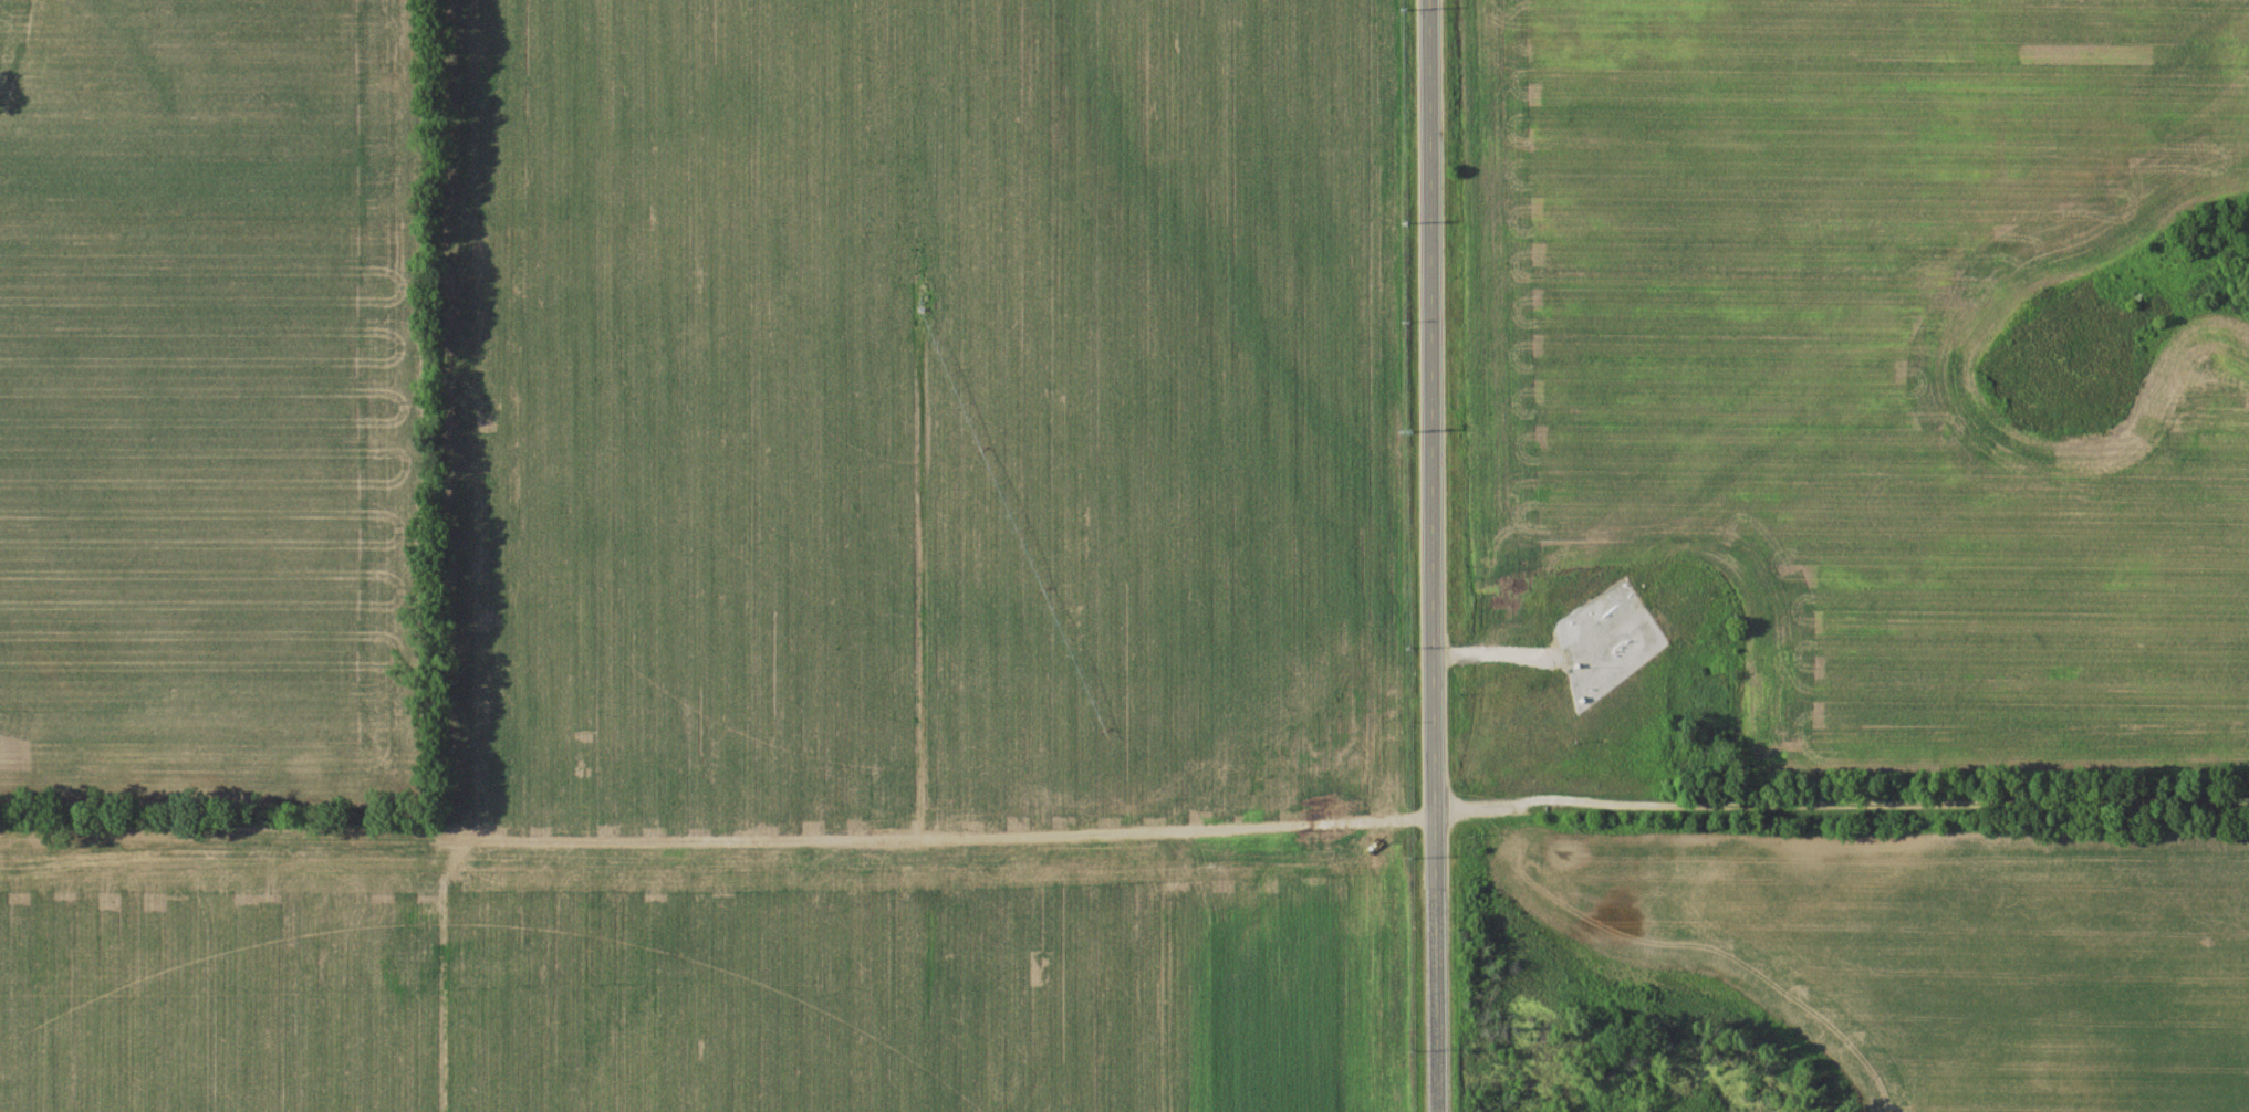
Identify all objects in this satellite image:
road: (1437, 555)
road: (1498, 657)
road: (1844, 804)

